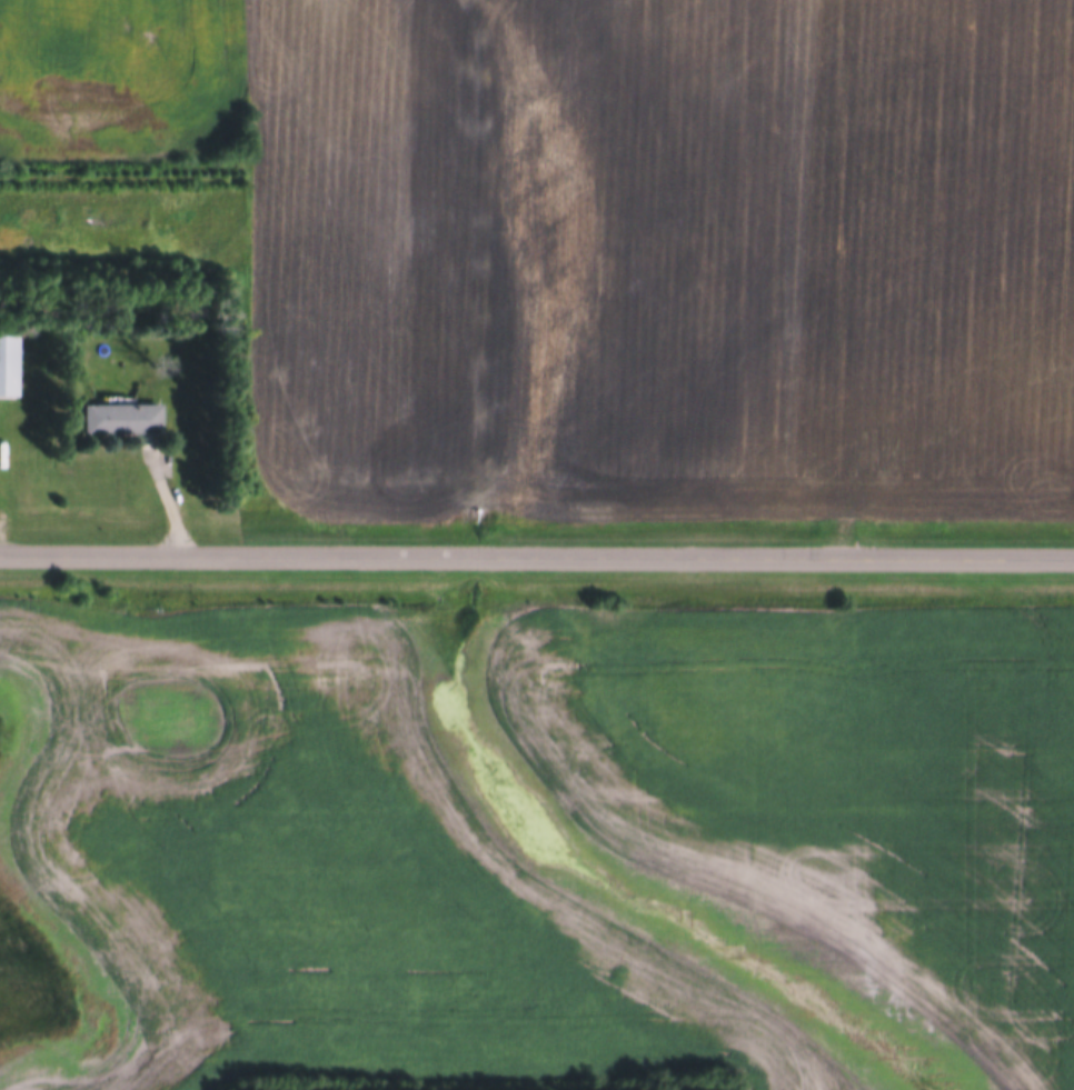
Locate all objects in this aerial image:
building: (10, 364)
building: (126, 417)
road: (537, 557)

